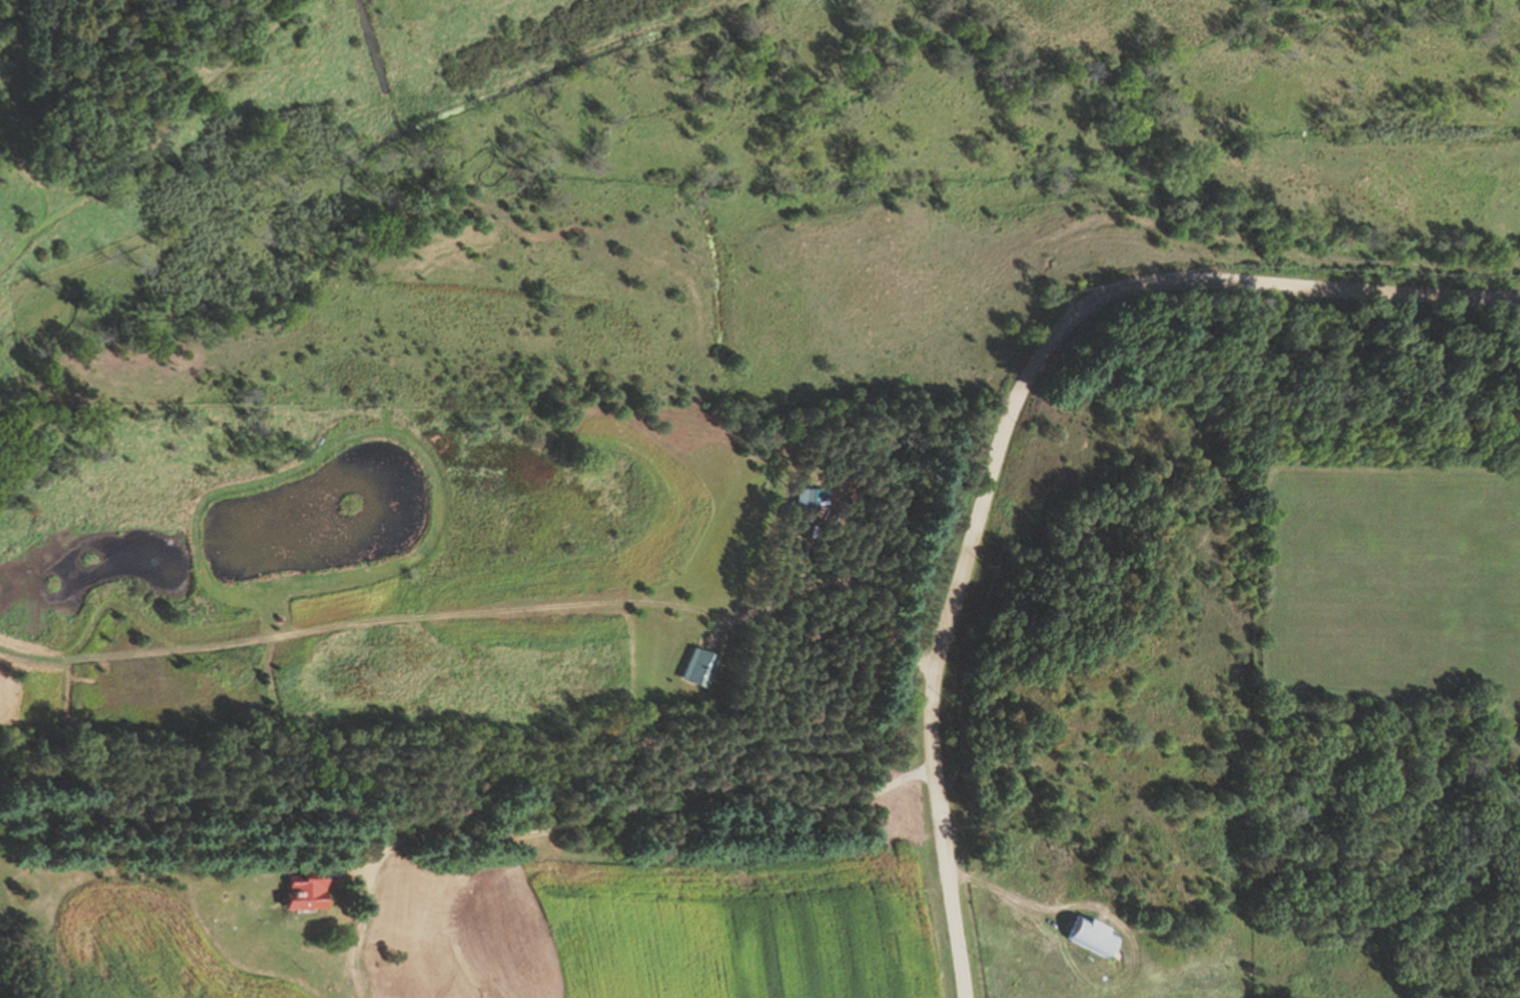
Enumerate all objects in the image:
road: (1005, 422)
building: (806, 499)
building: (698, 669)
building: (296, 891)
building: (1087, 935)

